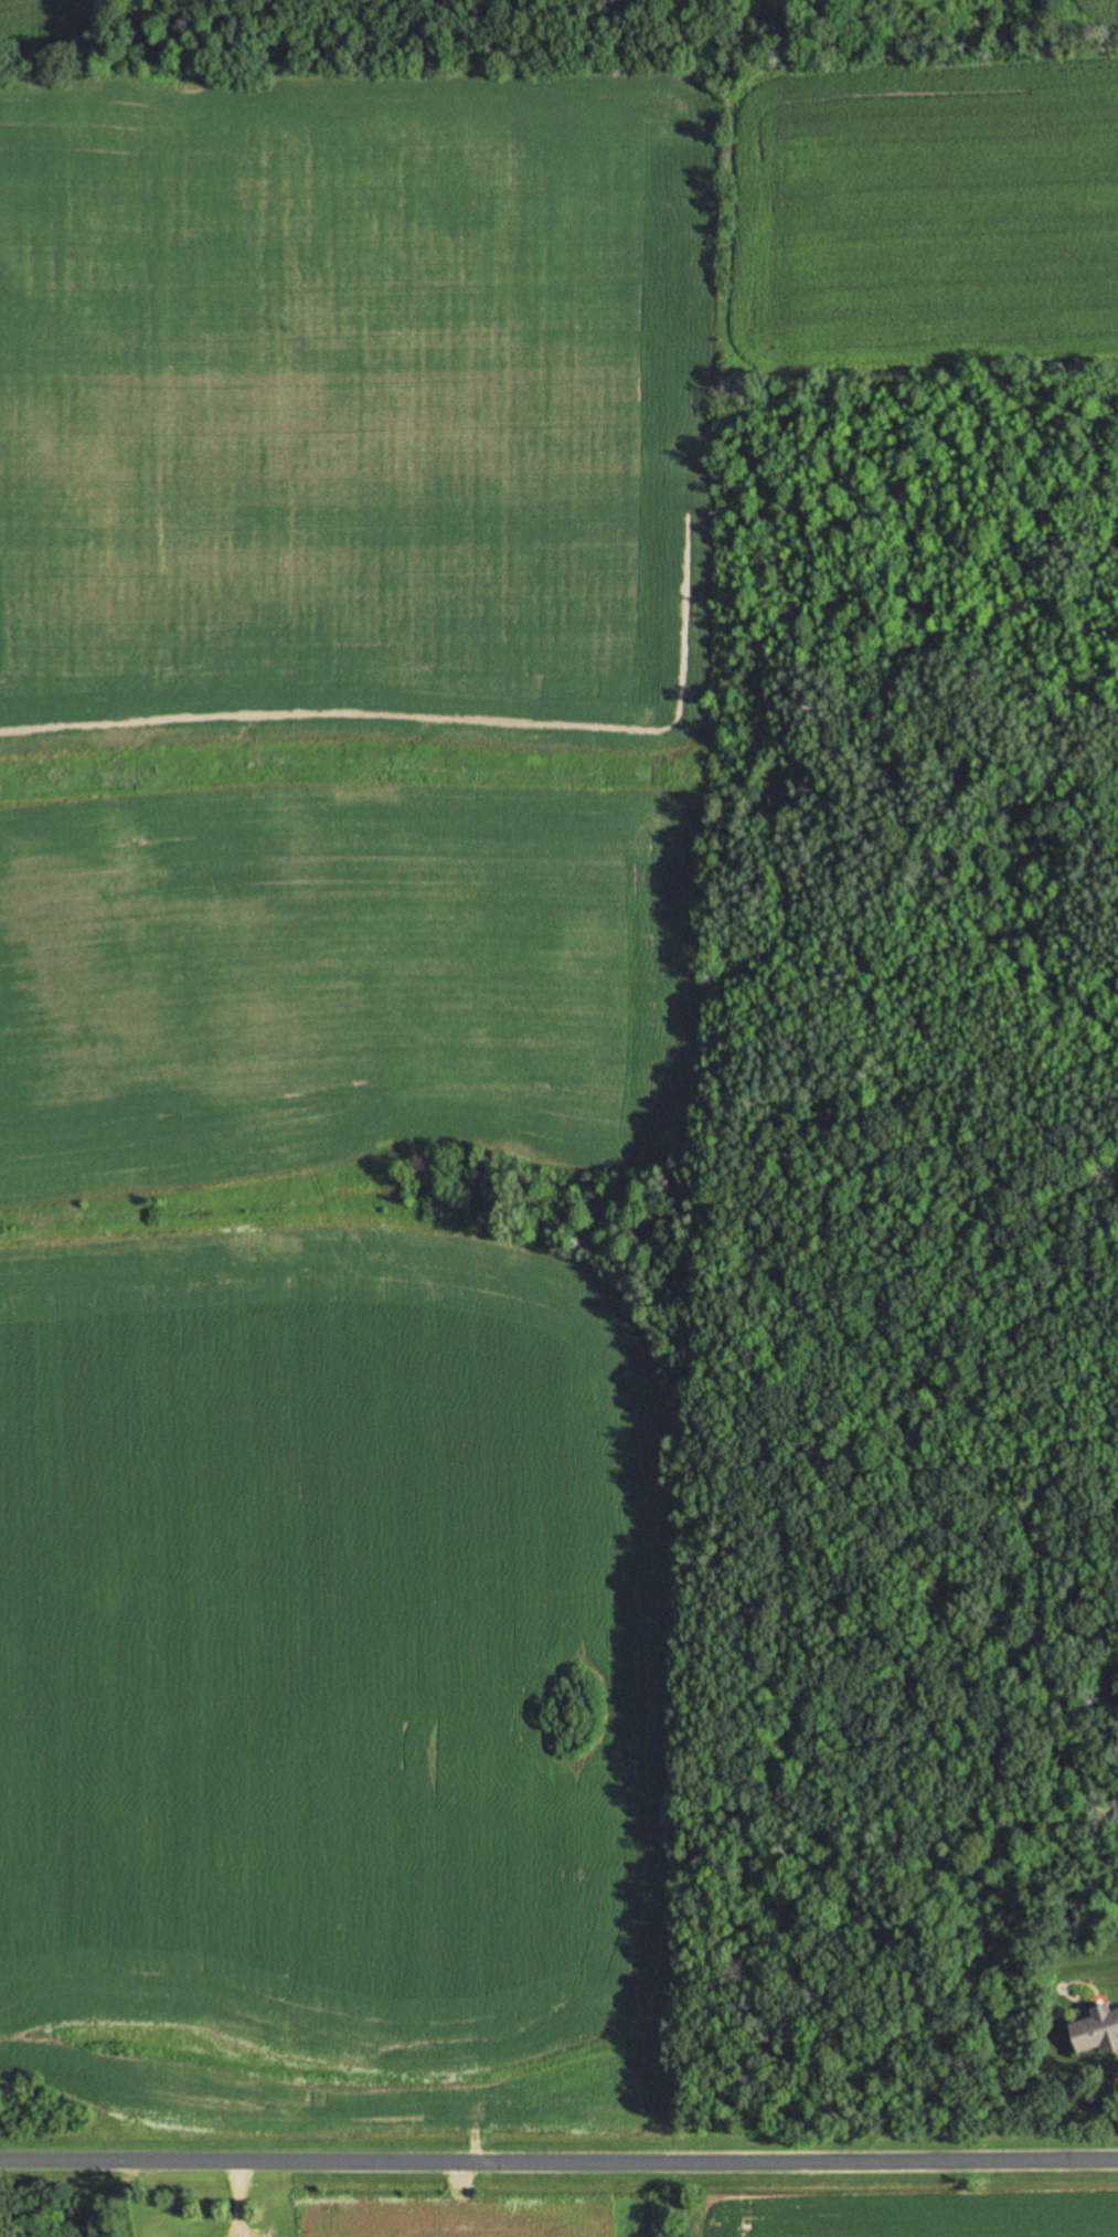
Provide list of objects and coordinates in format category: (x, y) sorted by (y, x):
building: (1098, 2032)
road: (558, 2177)

